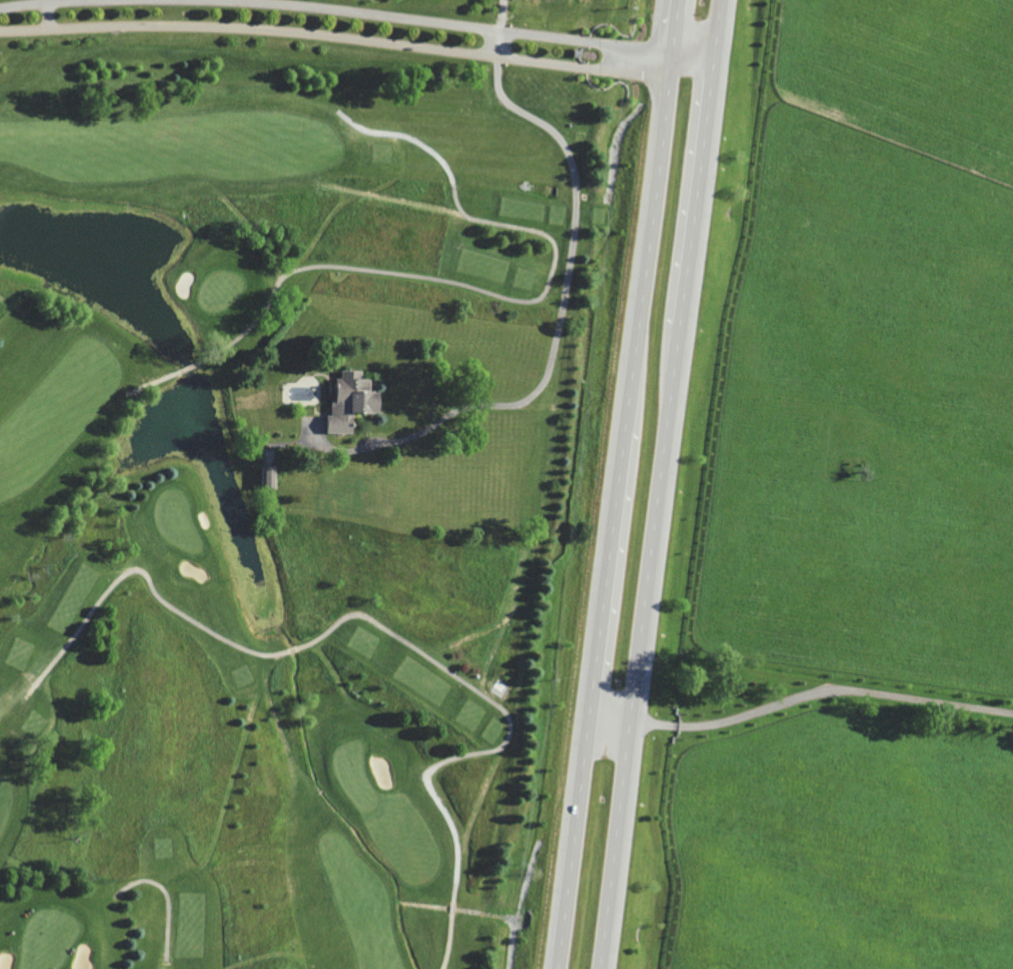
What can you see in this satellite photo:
road: (36, 2)
road: (49, 15)
road: (502, 15)
road: (448, 23)
road: (337, 35)
road: (499, 43)
road: (690, 63)
road: (520, 300)
road: (556, 331)
road: (156, 381)
building: (350, 401)
building: (270, 476)
park: (124, 481)
road: (616, 484)
road: (658, 484)
road: (147, 575)
road: (294, 649)
road: (818, 691)
road: (509, 715)
road: (608, 717)
road: (168, 898)
road: (452, 907)
road: (448, 941)

